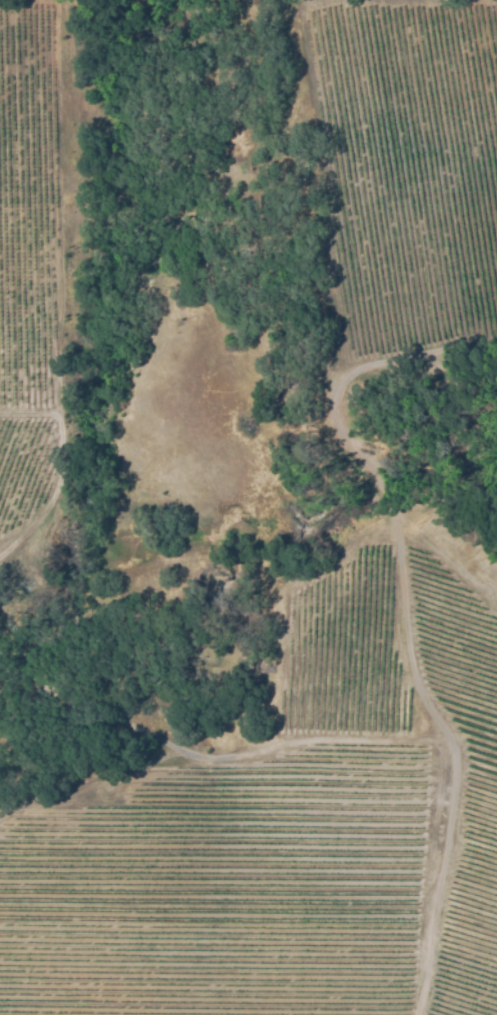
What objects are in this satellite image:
road: (138, 658)

